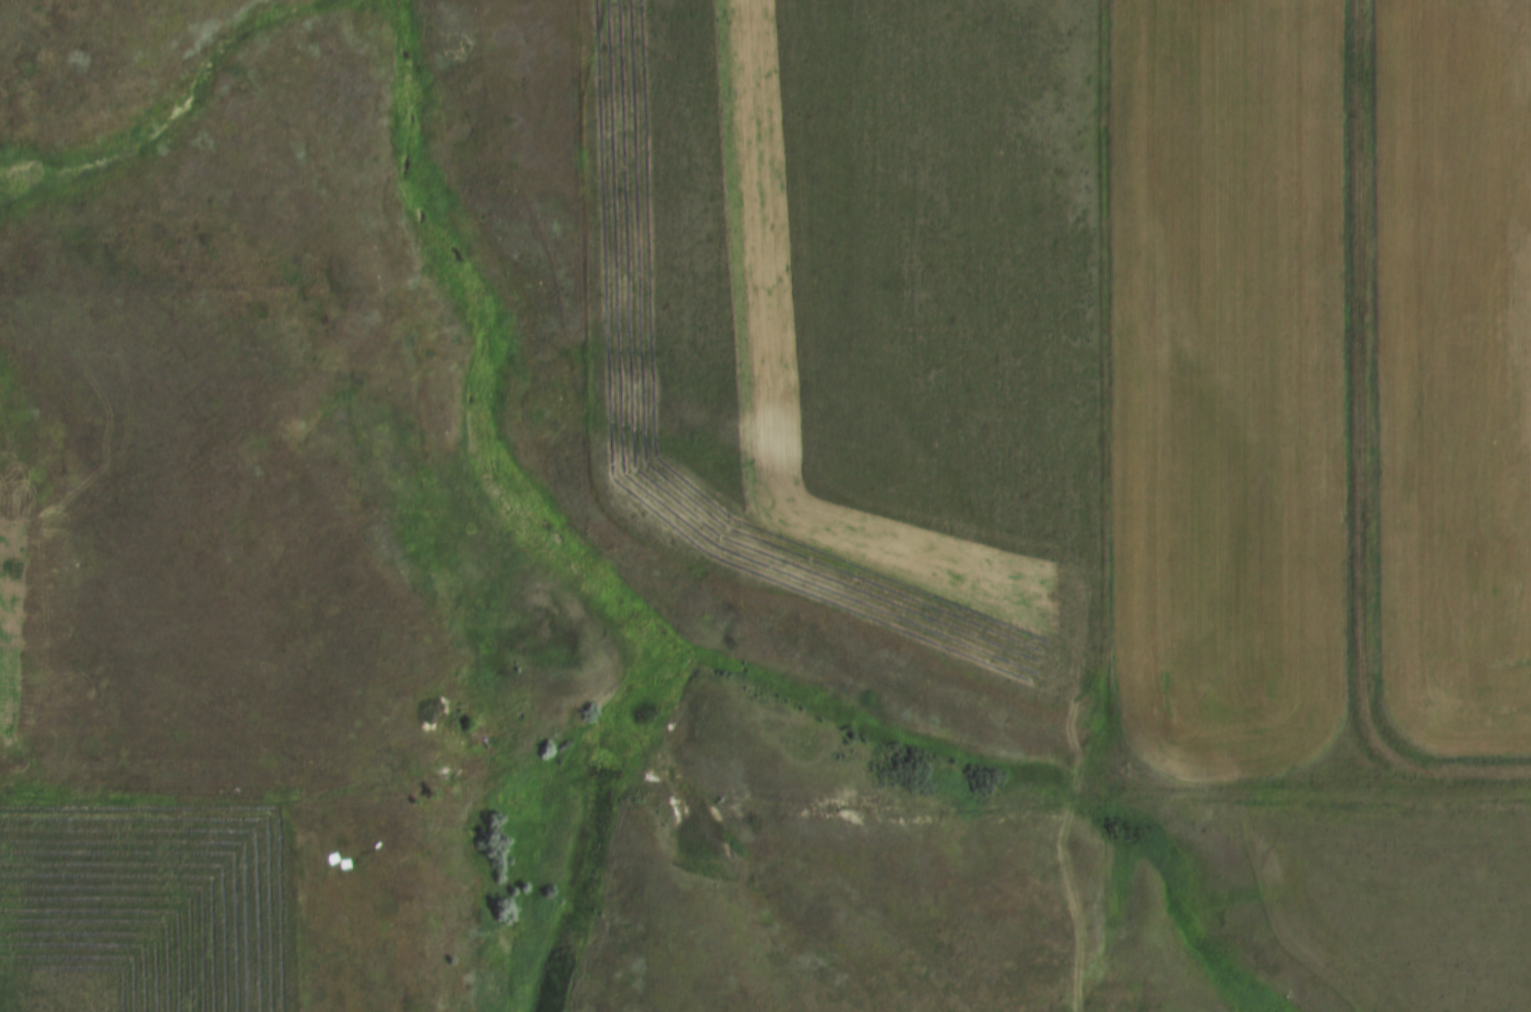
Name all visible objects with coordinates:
road: (1356, 456)

